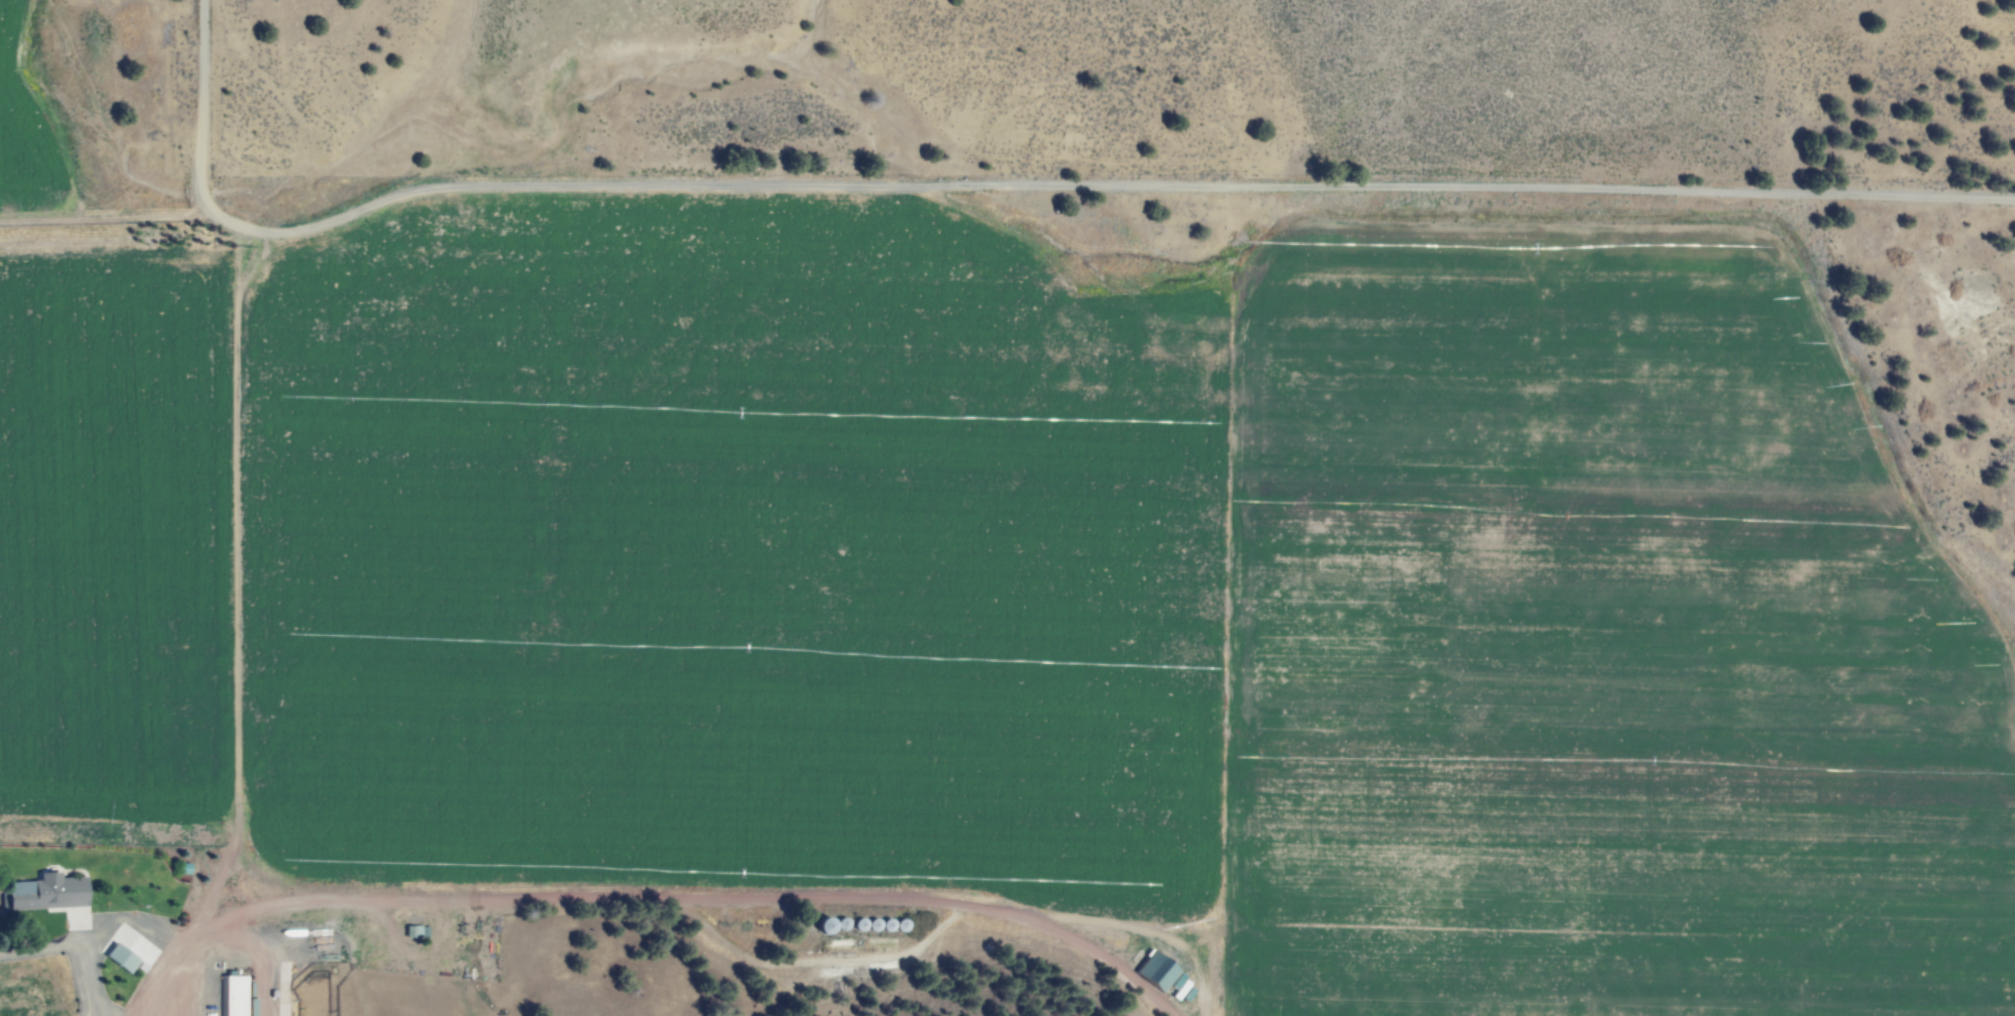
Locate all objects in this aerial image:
building: (42, 893)
road: (652, 896)
building: (117, 958)
building: (1154, 972)
building: (234, 996)

